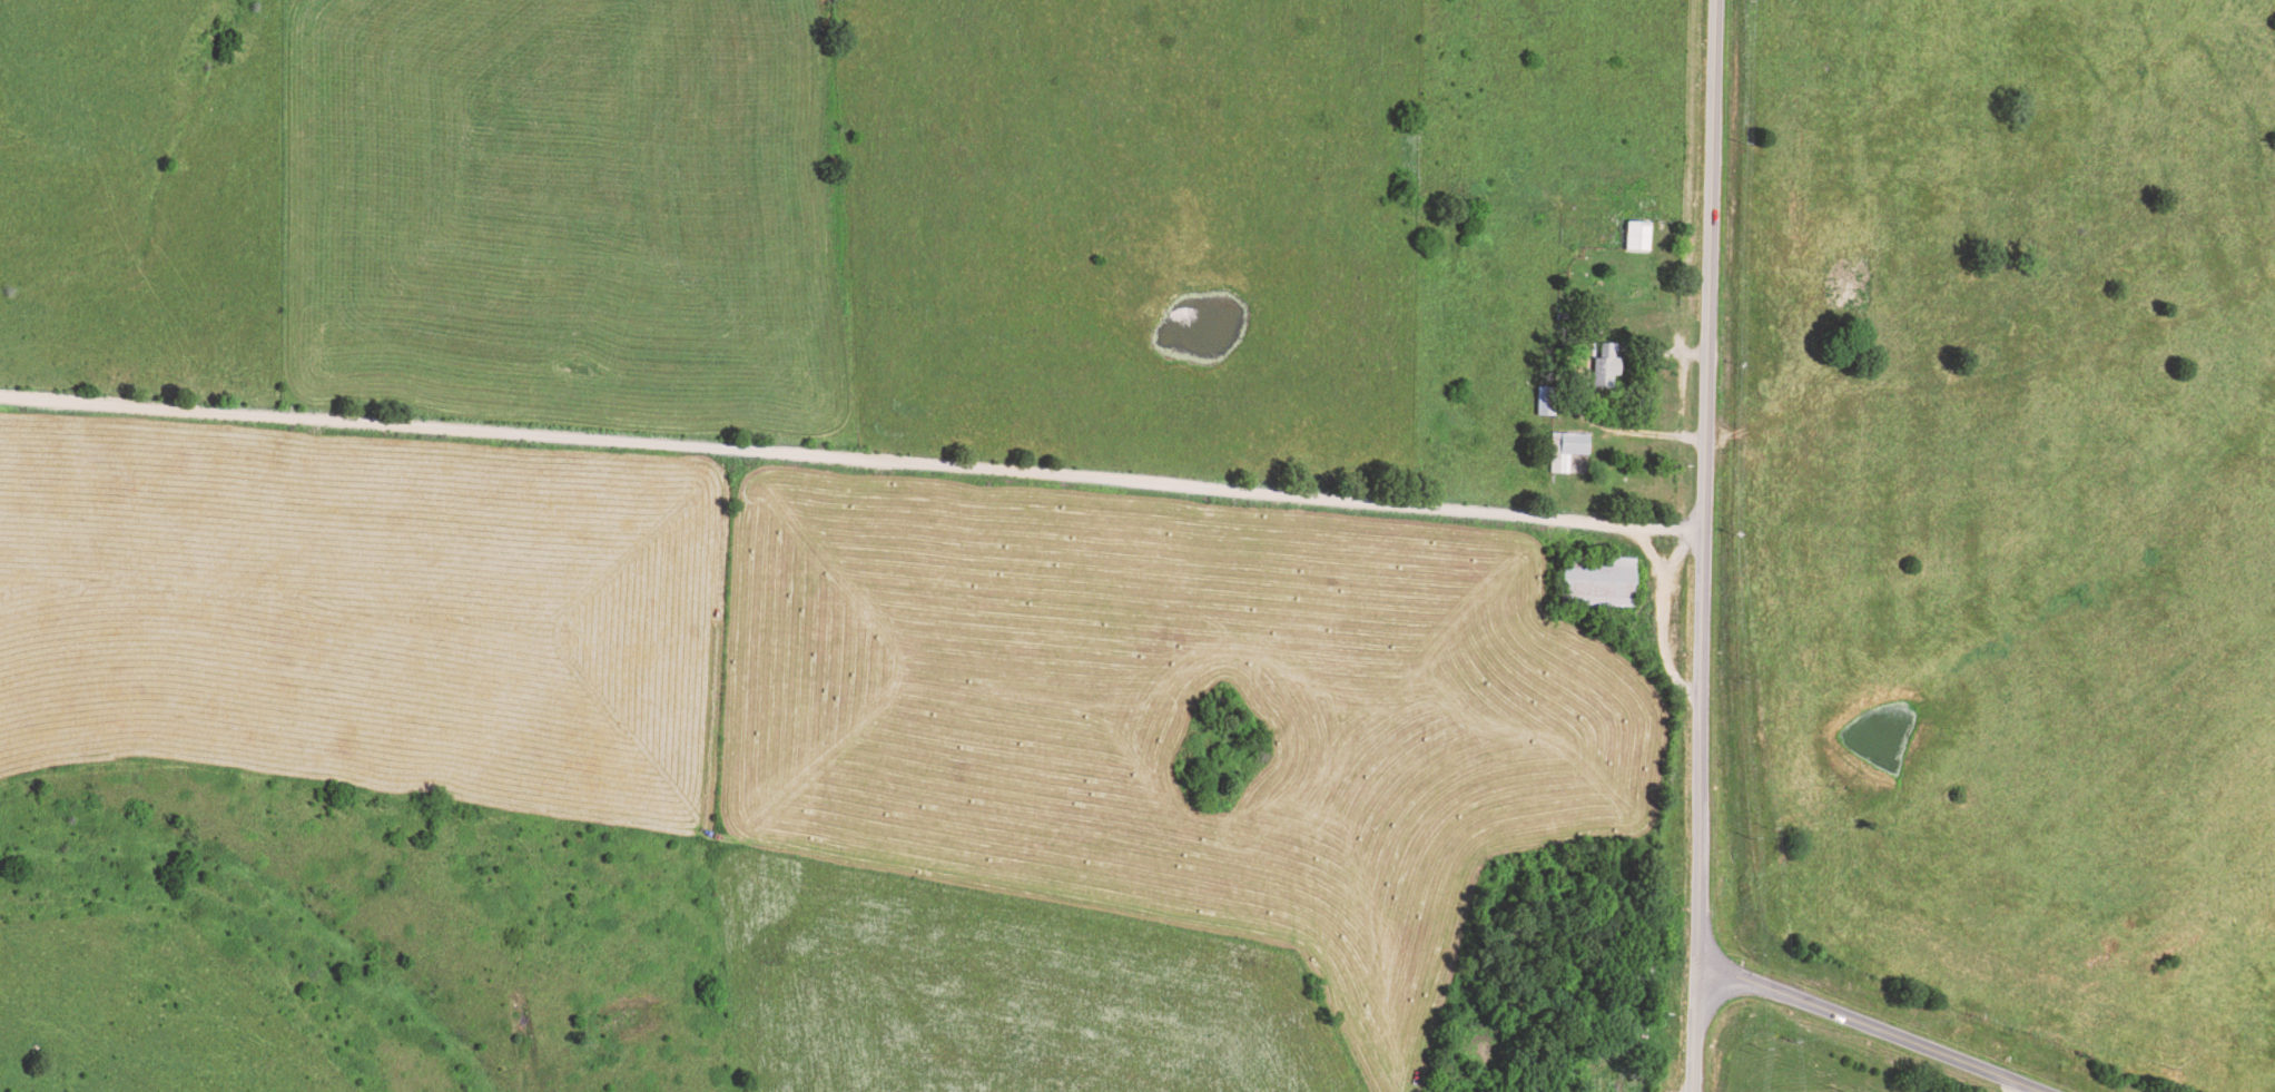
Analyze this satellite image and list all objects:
building: (1633, 234)
building: (1603, 363)
building: (1547, 403)
road: (850, 452)
building: (1569, 452)
road: (1701, 545)
building: (1601, 584)
road: (1867, 1027)
building: (1605, 1080)

